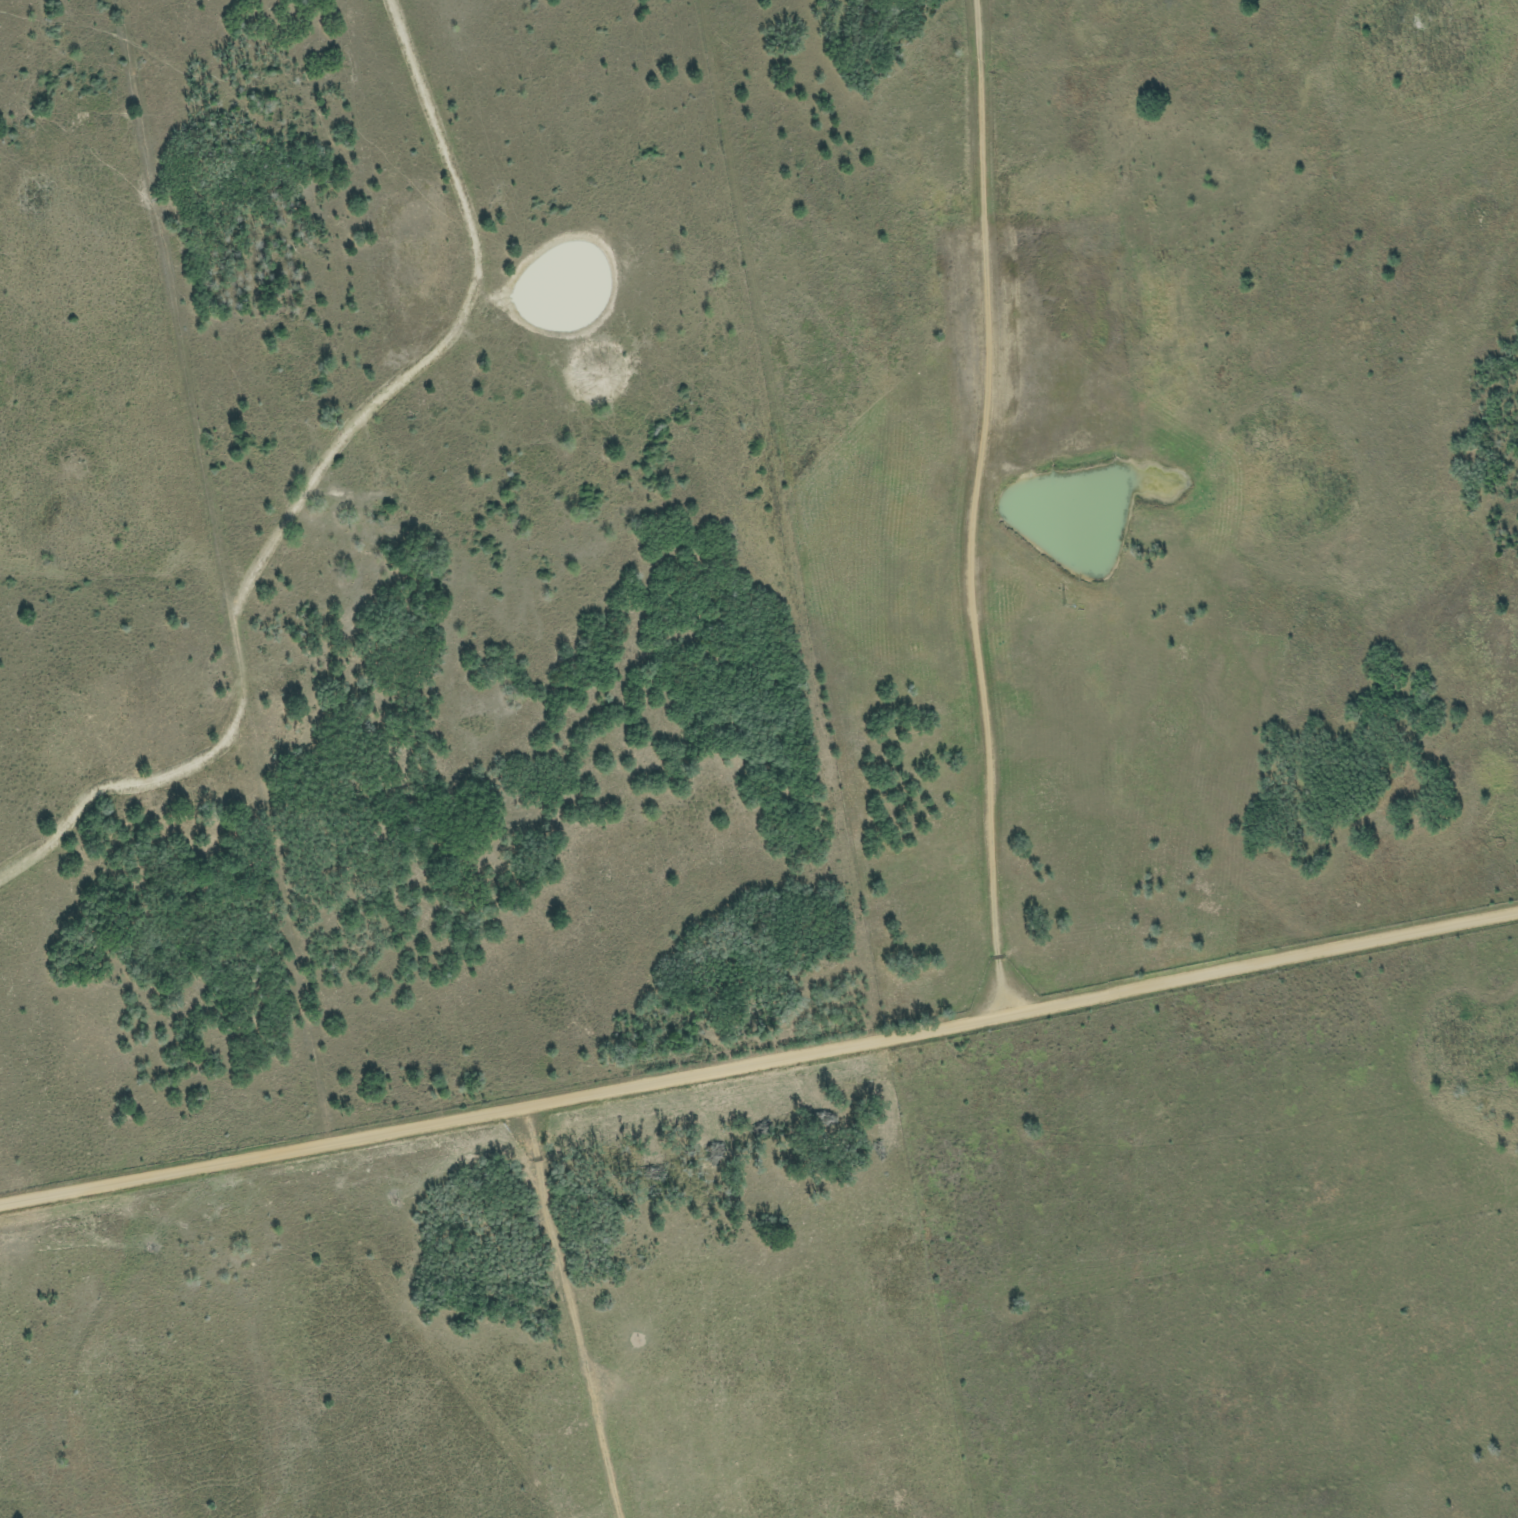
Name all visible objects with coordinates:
road: (759, 1059)

